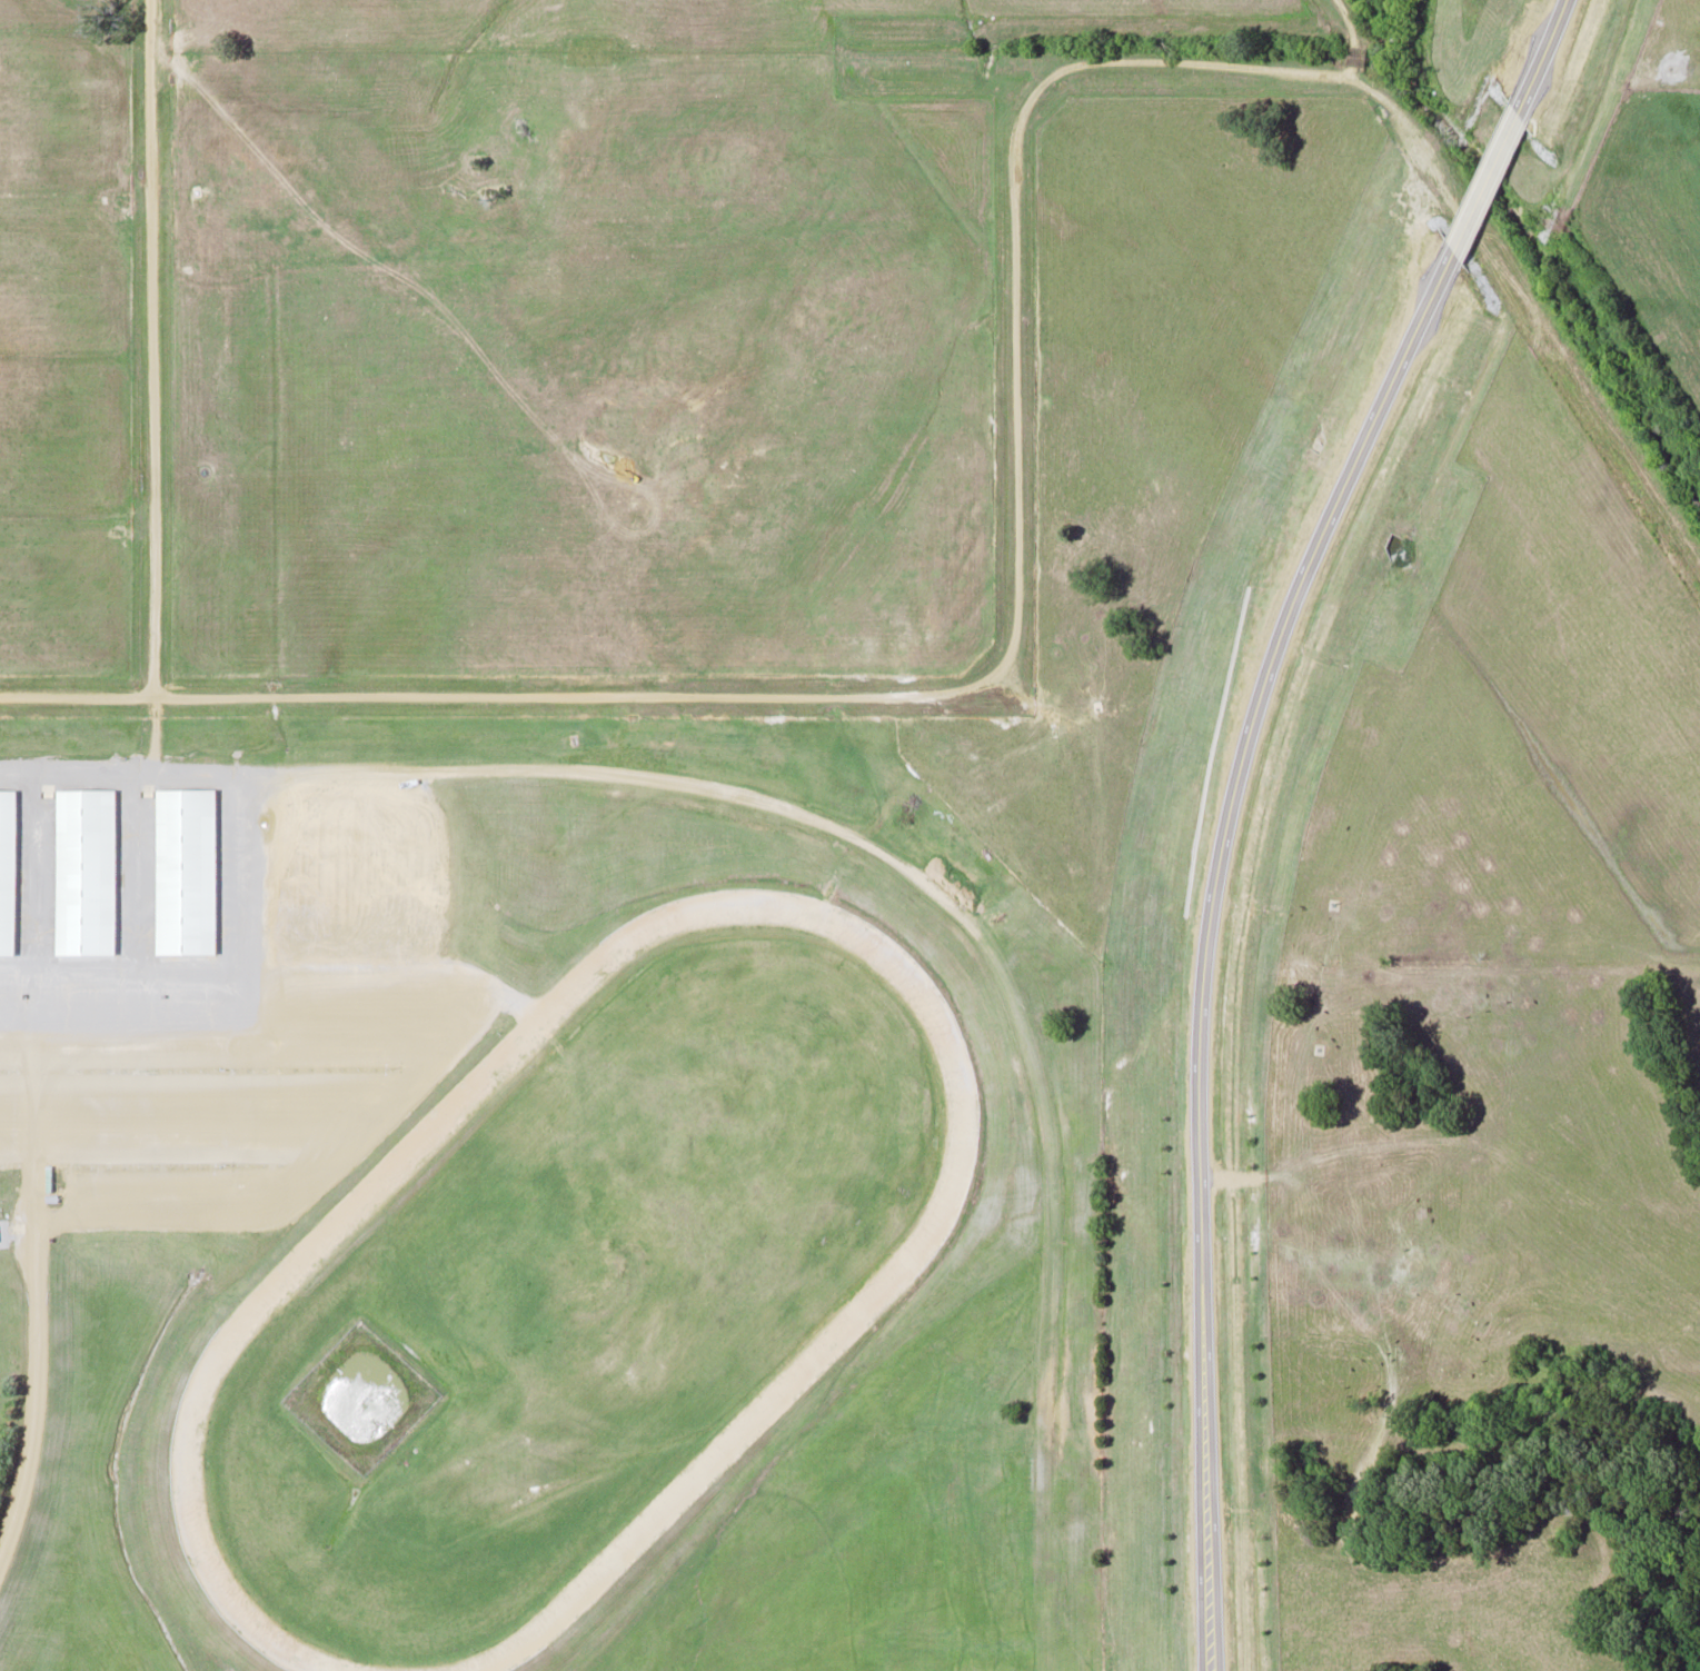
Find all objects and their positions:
road: (1346, 18)
road: (1351, 53)
road: (1541, 54)
road: (1484, 180)
road: (155, 349)
road: (960, 689)
building: (84, 869)
building: (186, 869)
building: (7, 871)
road: (1207, 937)
building: (476, 1015)
road: (36, 1350)

